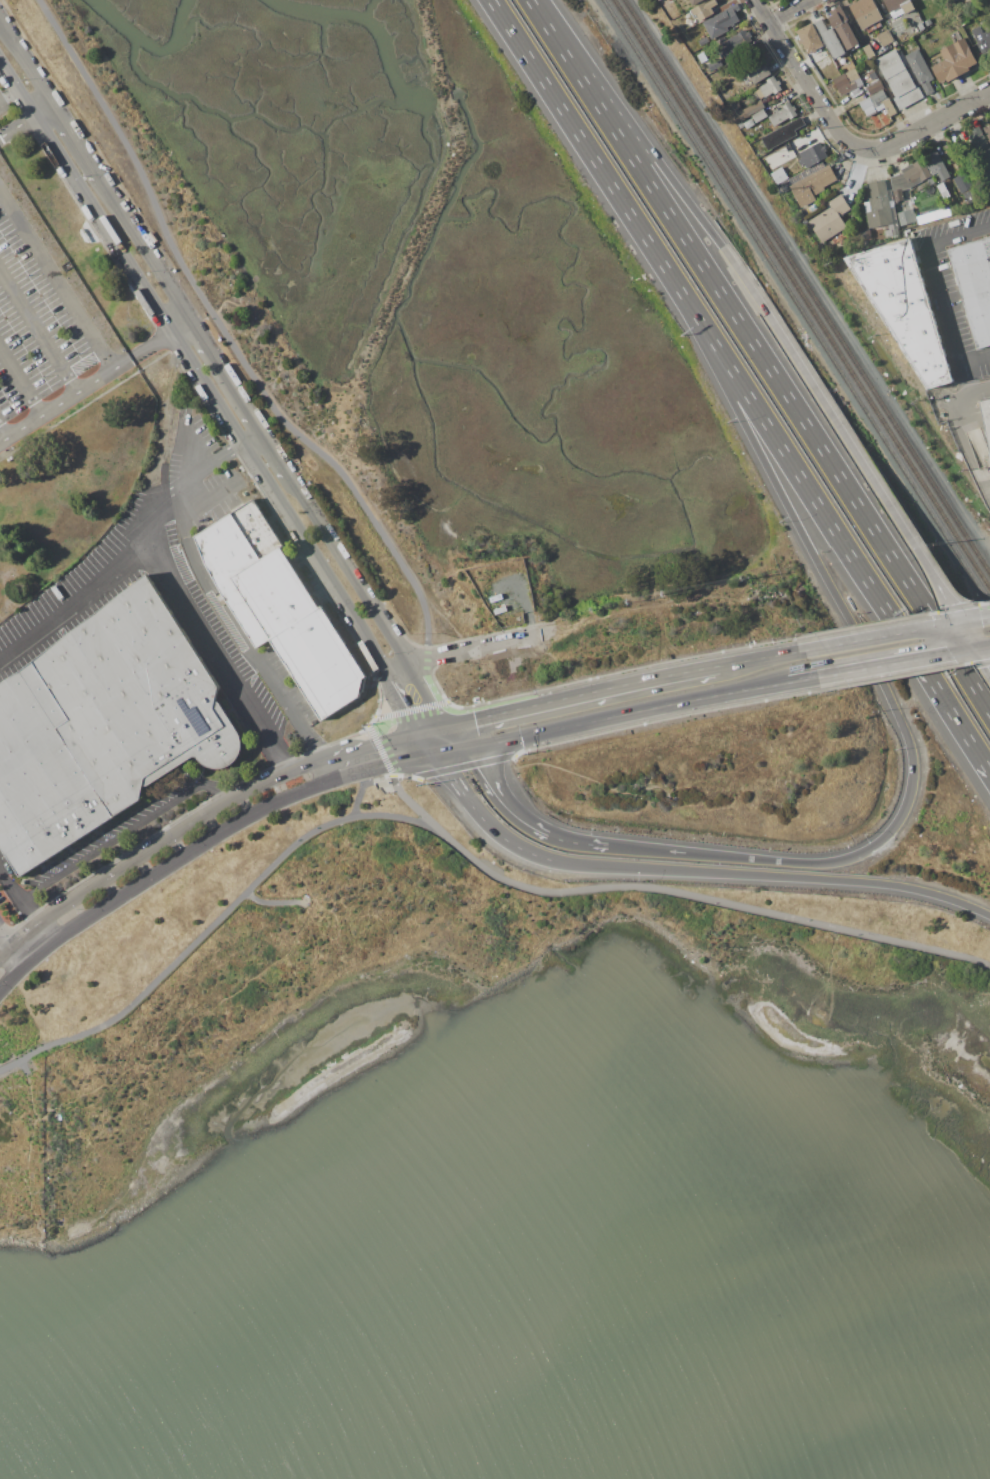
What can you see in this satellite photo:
building: (955, 0)
road: (530, 1)
building: (695, 1)
building: (989, 4)
building: (899, 7)
building: (704, 10)
road: (792, 12)
building: (866, 14)
building: (722, 22)
building: (964, 22)
building: (921, 26)
building: (842, 28)
building: (912, 32)
building: (809, 38)
building: (885, 38)
building: (830, 39)
building: (982, 40)
building: (704, 41)
building: (733, 42)
building: (869, 51)
building: (819, 56)
building: (954, 61)
building: (715, 65)
building: (703, 70)
road: (798, 70)
building: (919, 70)
building: (759, 74)
building: (898, 79)
building: (747, 81)
building: (846, 81)
building: (875, 87)
building: (768, 88)
building: (737, 90)
building: (854, 92)
building: (878, 97)
building: (865, 103)
building: (889, 107)
building: (880, 109)
building: (746, 110)
road: (39, 113)
building: (784, 113)
building: (760, 116)
building: (749, 123)
road: (15, 128)
road: (918, 130)
building: (988, 132)
building: (783, 134)
building: (946, 147)
building: (980, 151)
building: (815, 155)
road: (593, 159)
road: (648, 159)
building: (773, 166)
building: (919, 172)
building: (779, 176)
building: (811, 183)
building: (941, 186)
building: (967, 188)
building: (878, 204)
building: (905, 217)
building: (830, 219)
building: (895, 232)
road: (57, 278)
building: (974, 286)
railway: (806, 288)
road: (939, 288)
railway: (801, 296)
railway: (795, 304)
building: (904, 306)
road: (180, 328)
road: (38, 335)
road: (233, 342)
road: (206, 346)
road: (761, 357)
road: (21, 384)
road: (85, 389)
road: (221, 412)
building: (986, 417)
road: (4, 433)
road: (969, 436)
road: (865, 468)
road: (804, 484)
road: (210, 501)
building: (255, 574)
road: (174, 586)
road: (75, 607)
road: (221, 607)
road: (896, 633)
road: (973, 634)
road: (979, 648)
road: (479, 650)
road: (985, 654)
road: (760, 659)
building: (321, 663)
road: (878, 665)
road: (401, 666)
road: (244, 668)
road: (433, 694)
road: (585, 694)
road: (890, 702)
road: (950, 712)
road: (628, 713)
road: (381, 720)
building: (103, 725)
road: (439, 727)
road: (461, 736)
road: (367, 746)
road: (454, 752)
road: (389, 763)
road: (452, 771)
road: (364, 788)
road: (413, 803)
road: (522, 821)
road: (126, 832)
road: (171, 834)
road: (458, 847)
road: (162, 870)
road: (715, 874)
parking lot: (3, 892)
road: (18, 896)
road: (276, 900)
road: (26, 934)
road: (5, 938)
road: (5, 951)
road: (19, 955)

